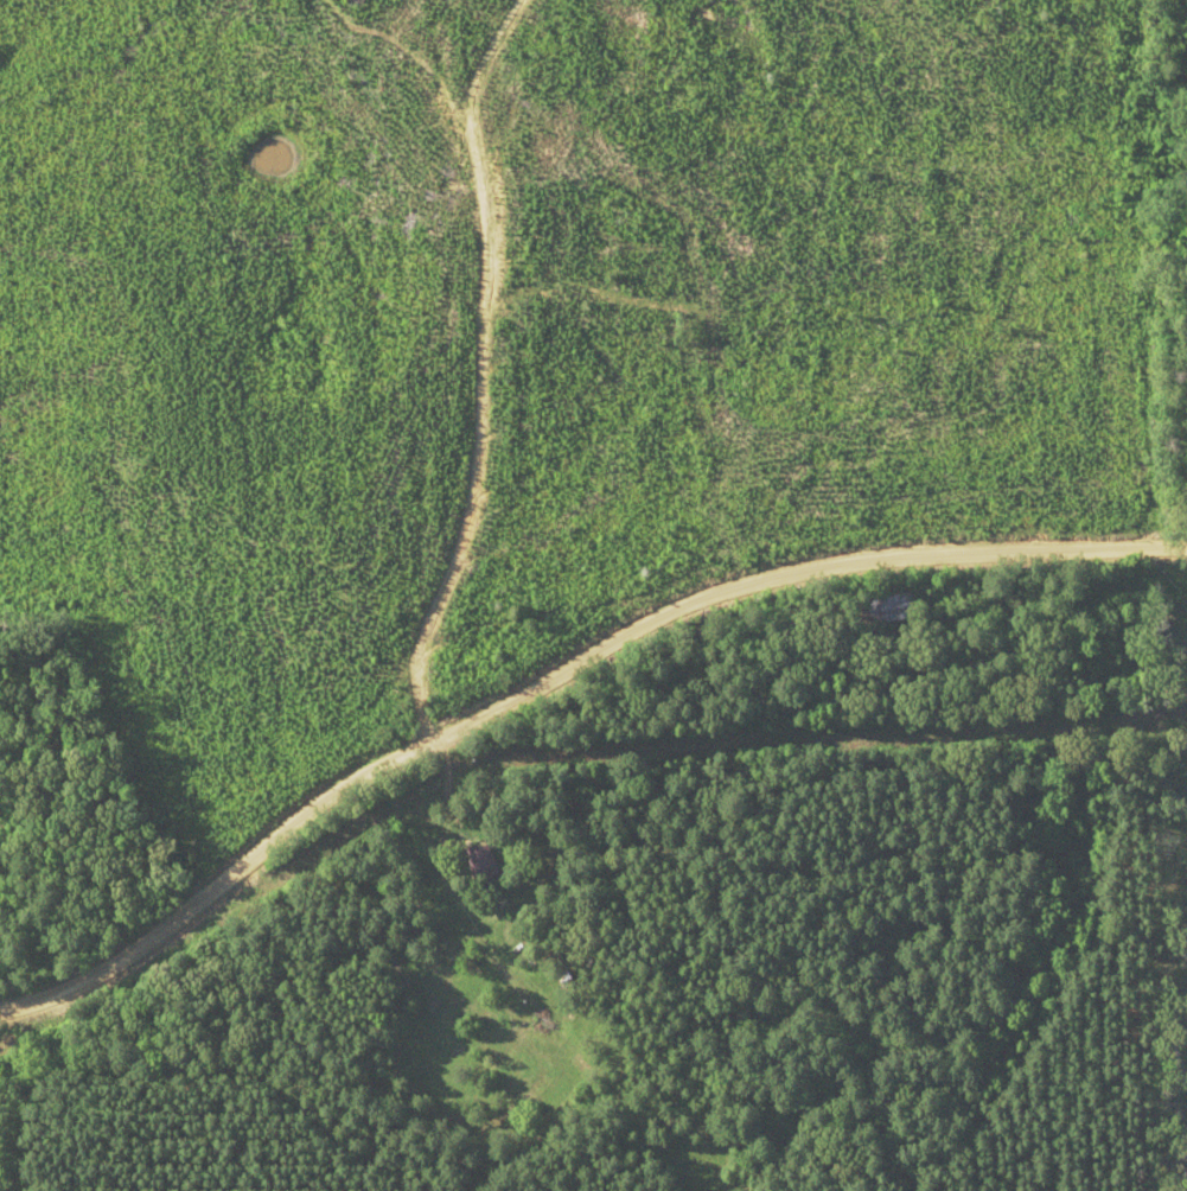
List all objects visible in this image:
road: (491, 405)
building: (898, 609)
road: (560, 707)
building: (490, 858)

